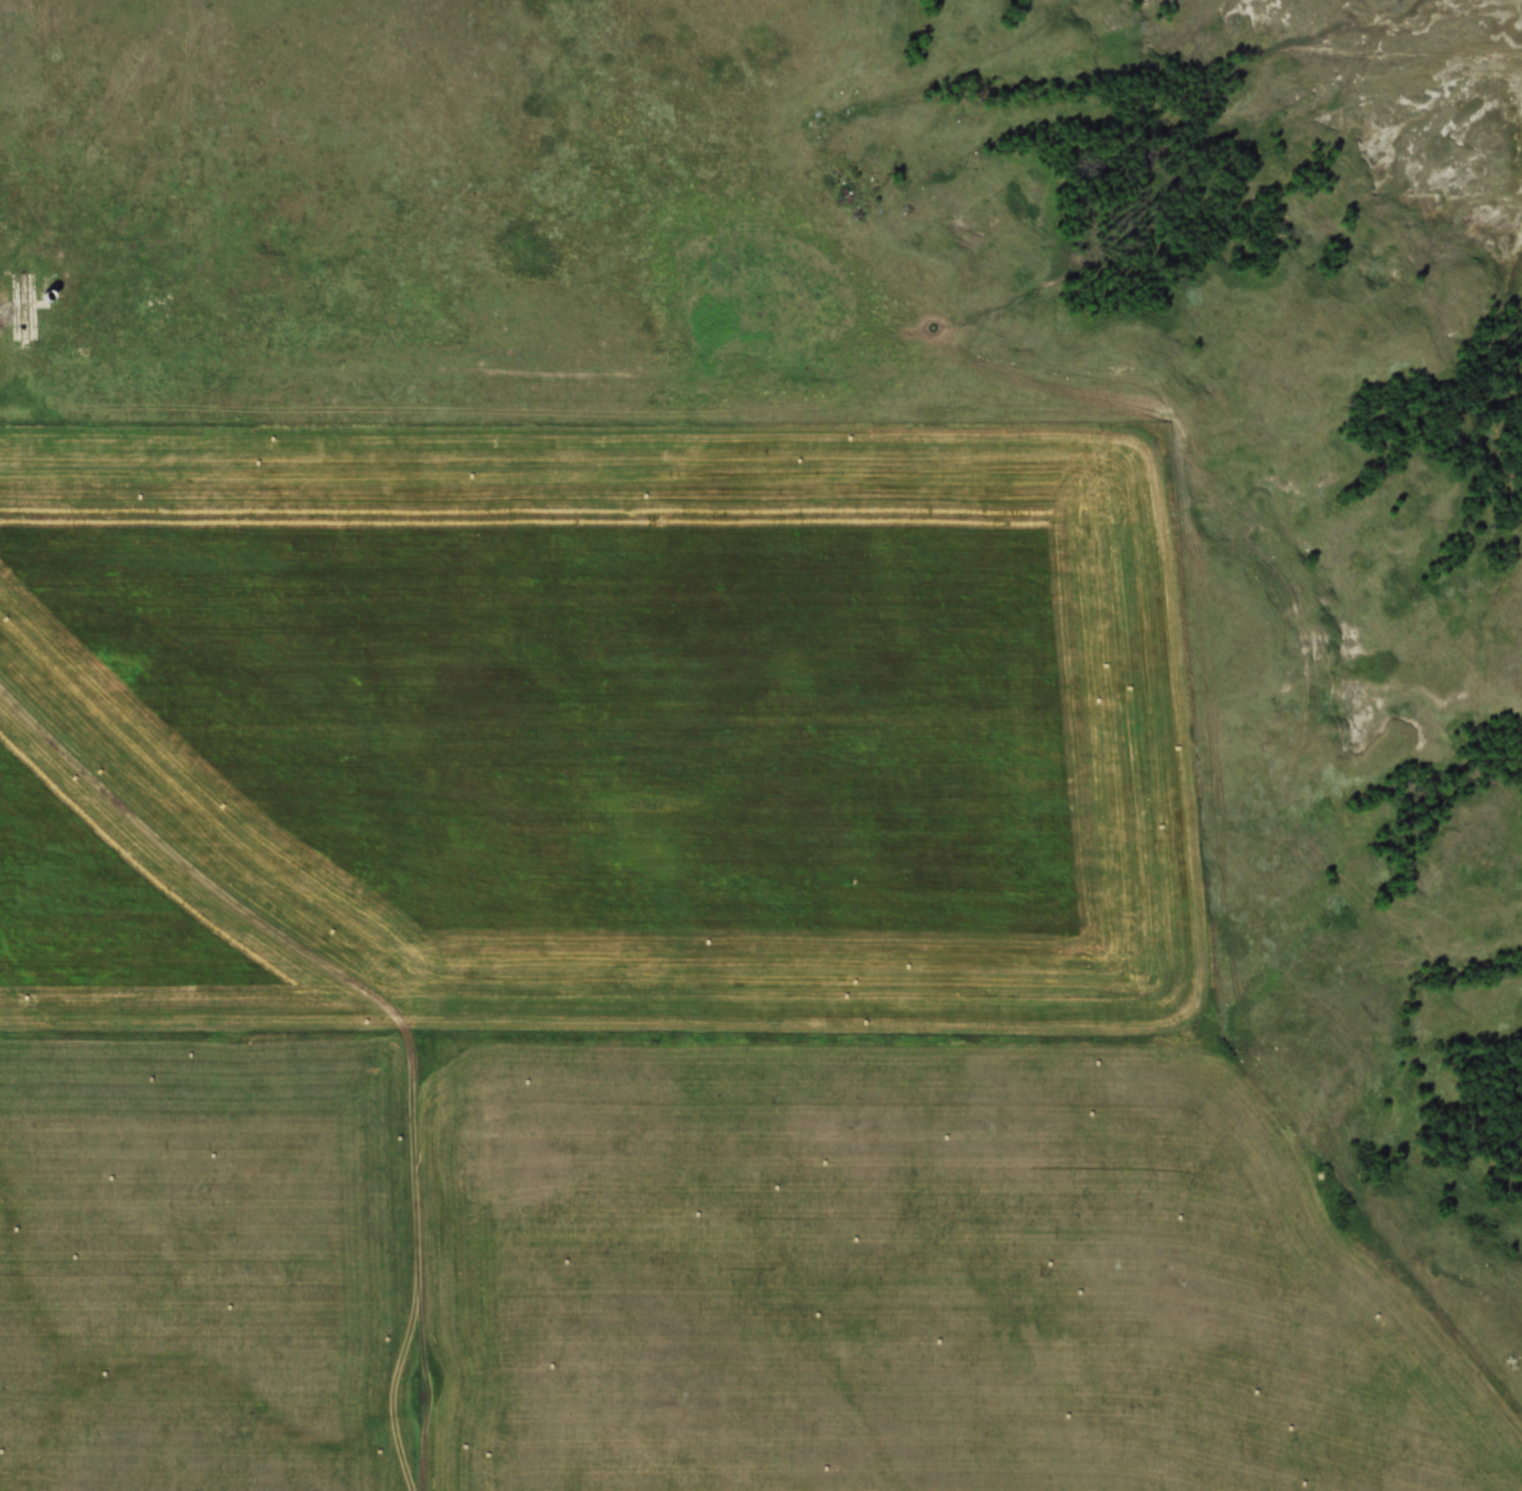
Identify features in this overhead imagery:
road: (198, 217)
building: (29, 286)
silo: (29, 286)
road: (413, 1042)

